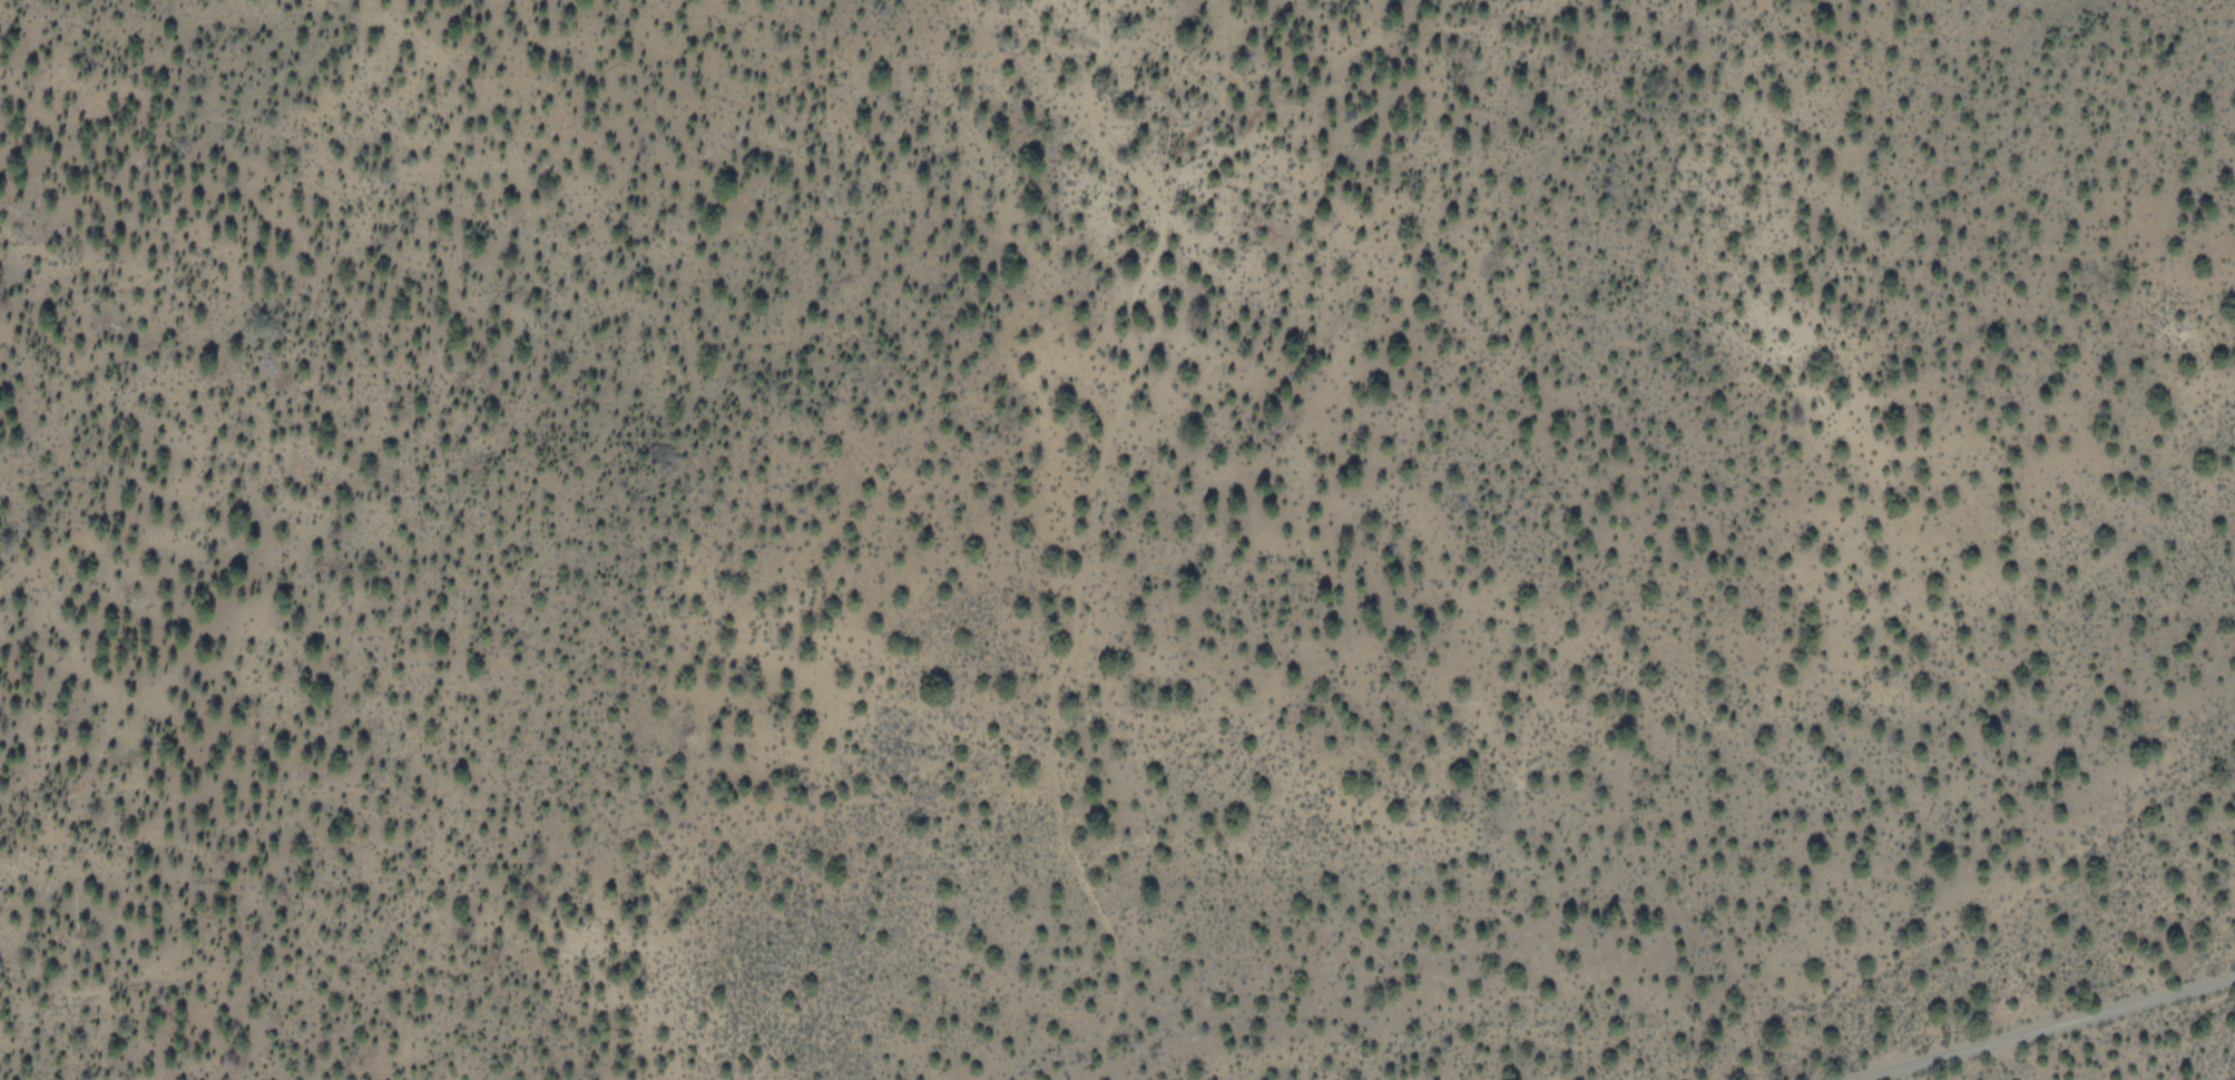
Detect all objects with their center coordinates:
road: (2051, 1029)

